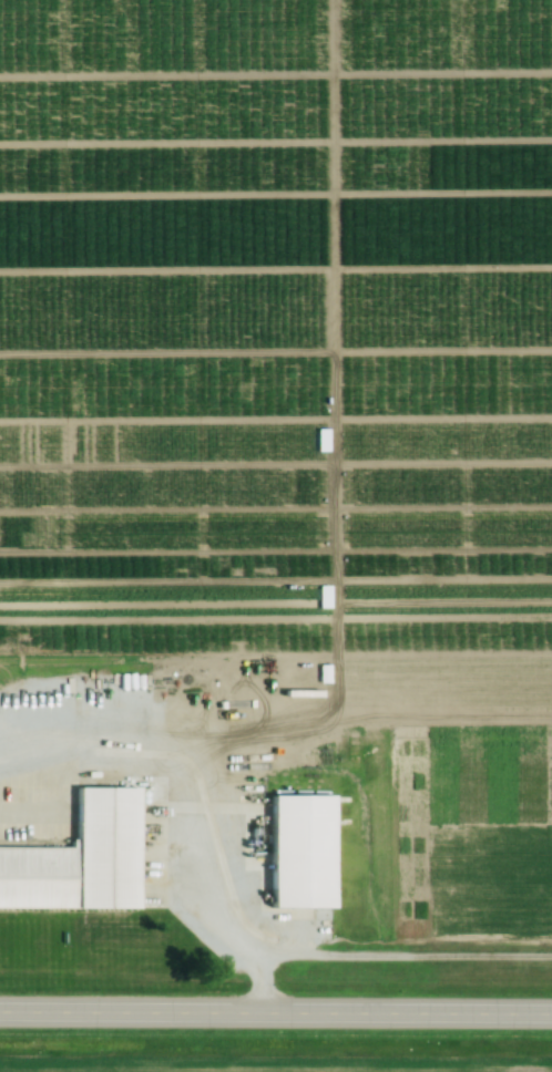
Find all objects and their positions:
building: (318, 176)
building: (319, 212)
road: (191, 808)
building: (305, 854)
building: (82, 860)
road: (275, 1019)

